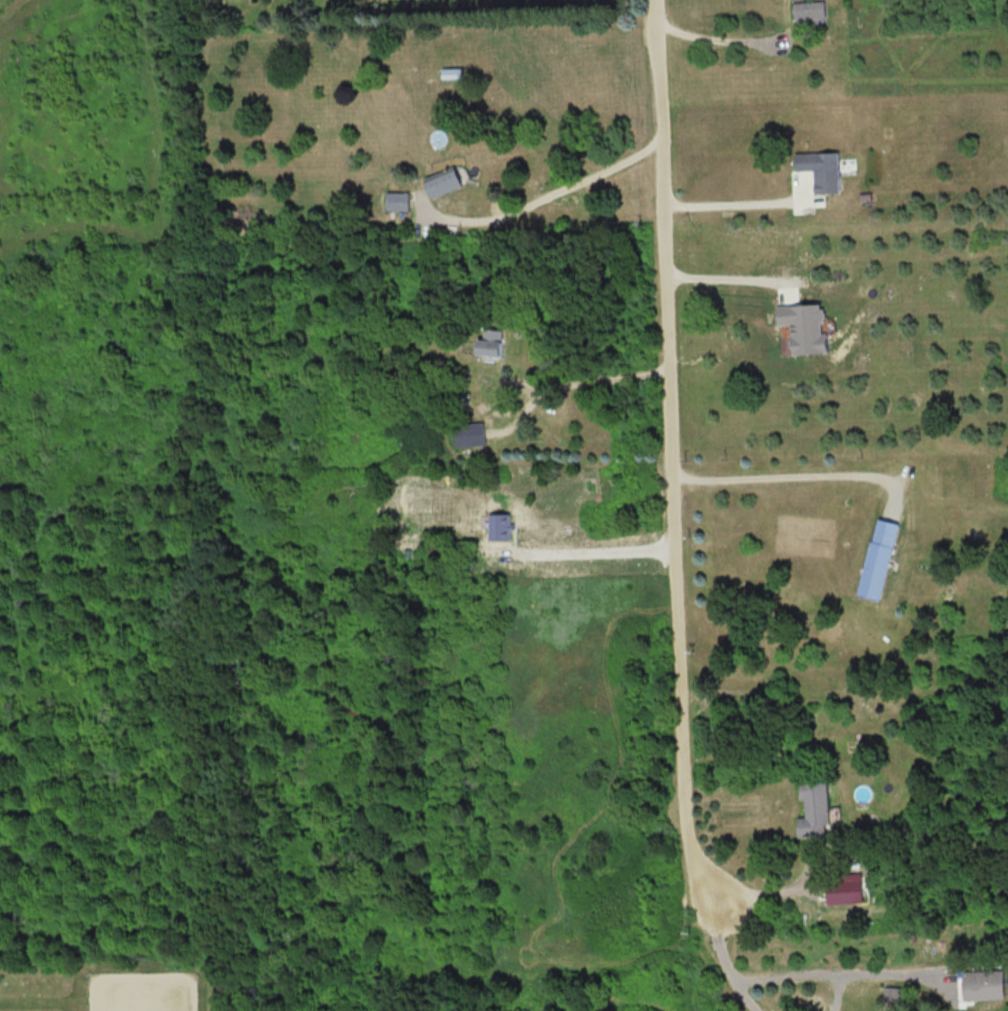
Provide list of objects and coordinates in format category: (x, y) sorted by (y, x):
building: (809, 8)
road: (720, 33)
building: (450, 71)
building: (820, 167)
building: (442, 182)
road: (550, 189)
building: (398, 199)
road: (737, 202)
road: (668, 257)
road: (730, 265)
building: (489, 342)
building: (469, 433)
road: (783, 473)
road: (590, 539)
building: (878, 557)
road: (681, 639)
building: (815, 805)
road: (780, 889)
road: (795, 974)
building: (982, 982)
road: (837, 991)
road: (748, 994)

